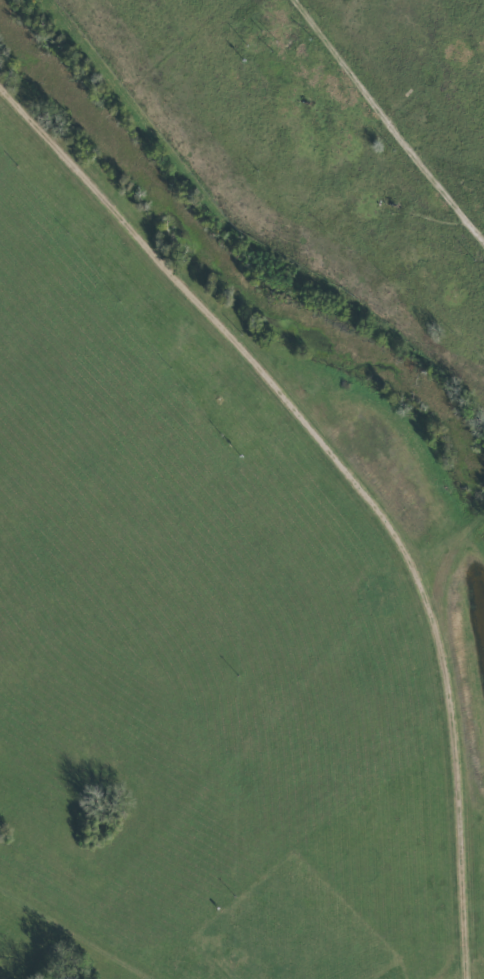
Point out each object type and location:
road: (389, 110)
road: (348, 482)

